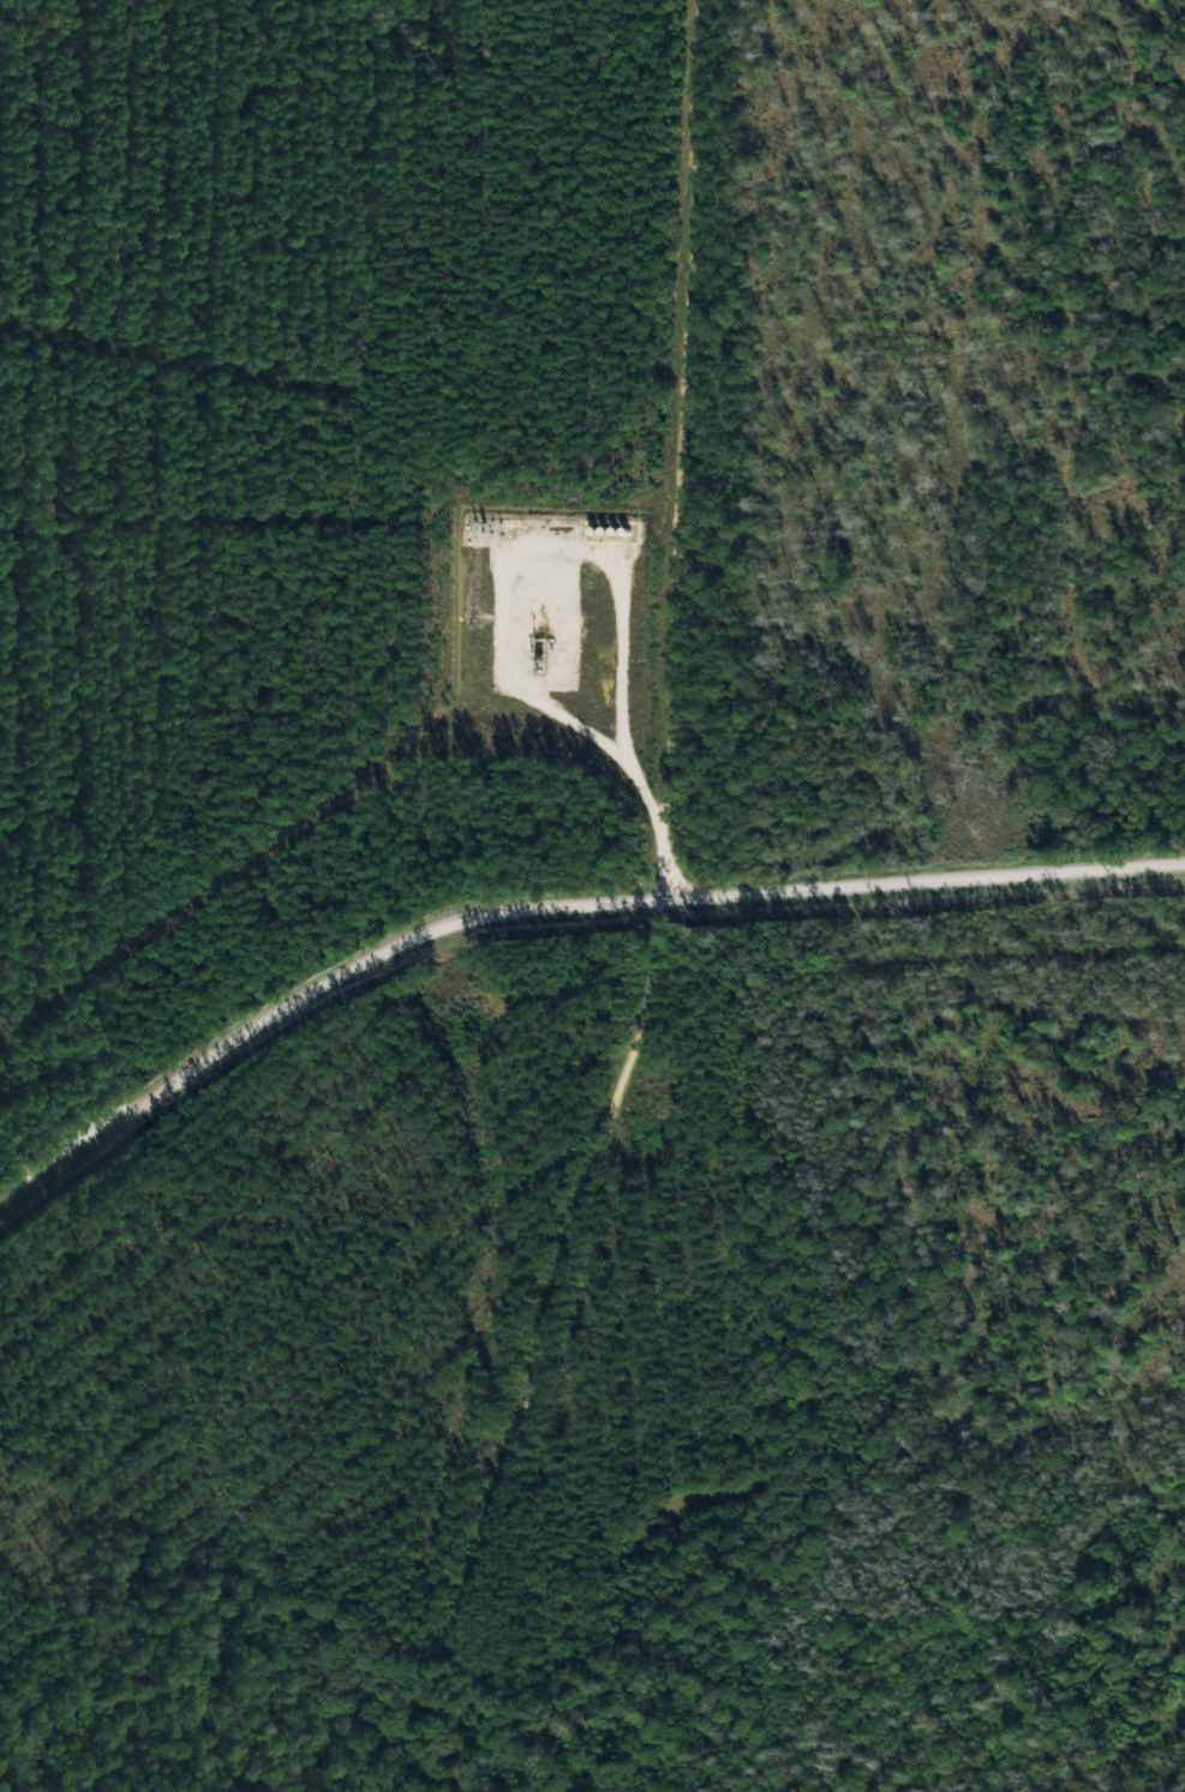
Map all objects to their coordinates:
road: (552, 905)
road: (666, 916)

